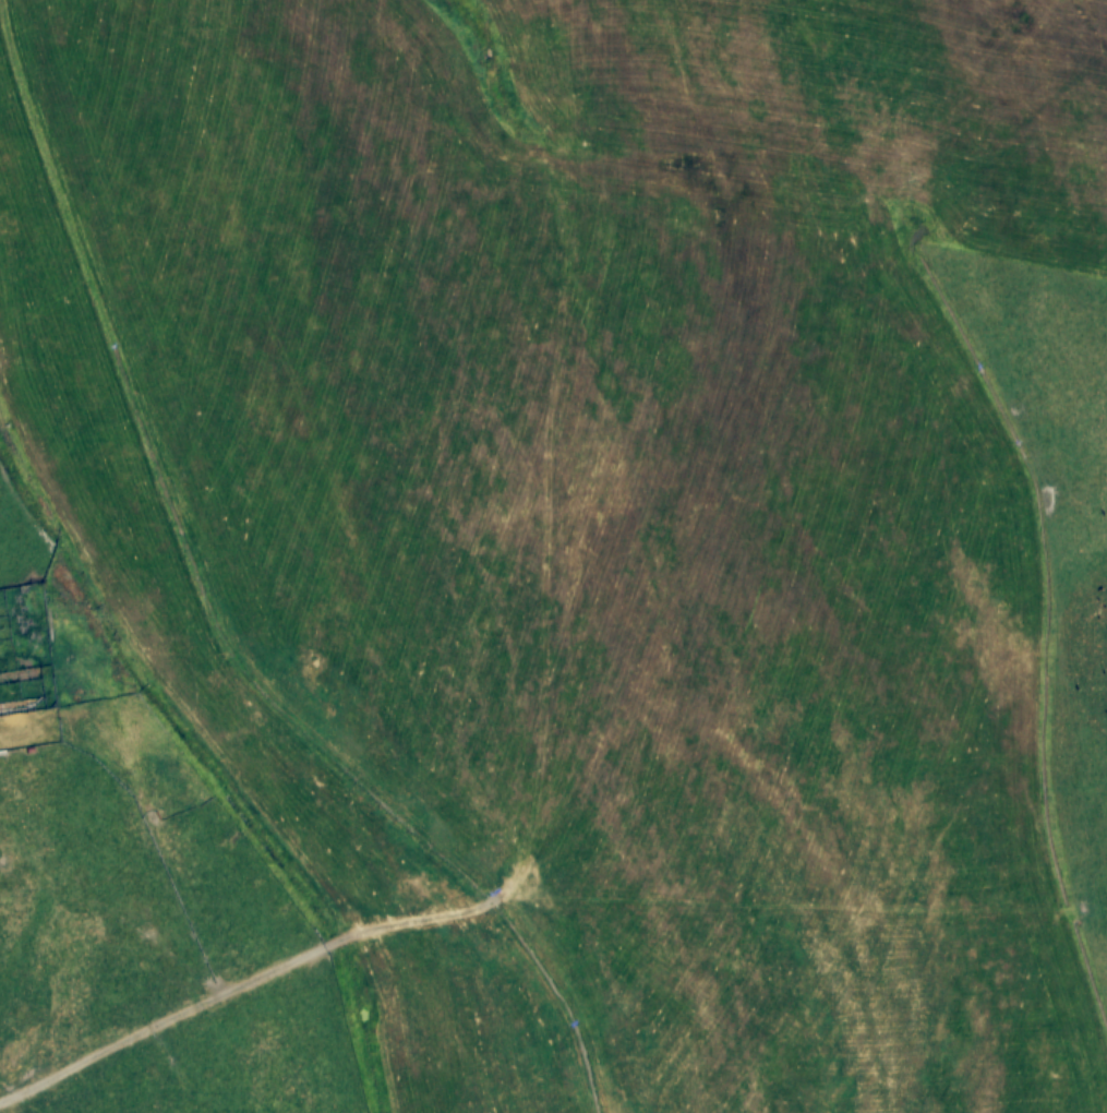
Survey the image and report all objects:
road: (297, 969)

